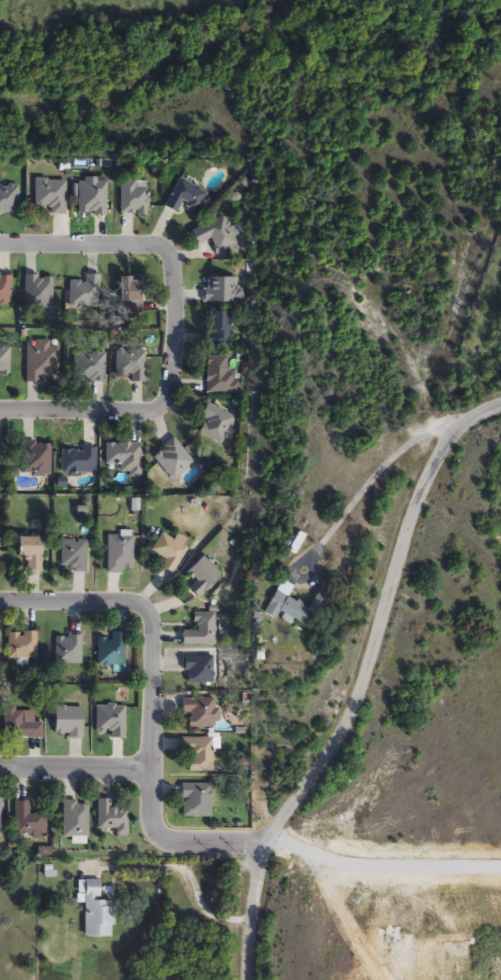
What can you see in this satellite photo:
building: (51, 196)
building: (93, 197)
building: (187, 198)
building: (136, 199)
building: (10, 200)
building: (217, 236)
building: (6, 291)
building: (129, 291)
building: (224, 291)
building: (34, 292)
building: (83, 293)
road: (178, 327)
building: (221, 330)
building: (36, 366)
building: (89, 366)
building: (130, 367)
building: (222, 377)
building: (215, 424)
building: (126, 457)
building: (37, 458)
building: (80, 460)
building: (174, 460)
building: (3, 466)
building: (298, 544)
building: (29, 552)
building: (177, 552)
building: (128, 554)
building: (75, 556)
building: (208, 577)
building: (286, 605)
building: (206, 633)
building: (23, 646)
building: (69, 649)
building: (113, 651)
building: (199, 671)
road: (358, 682)
road: (156, 701)
building: (199, 713)
building: (69, 723)
building: (111, 723)
building: (22, 724)
building: (198, 752)
road: (76, 771)
building: (195, 801)
building: (1, 815)
building: (74, 819)
building: (112, 820)
building: (29, 823)
road: (385, 866)
building: (94, 910)

